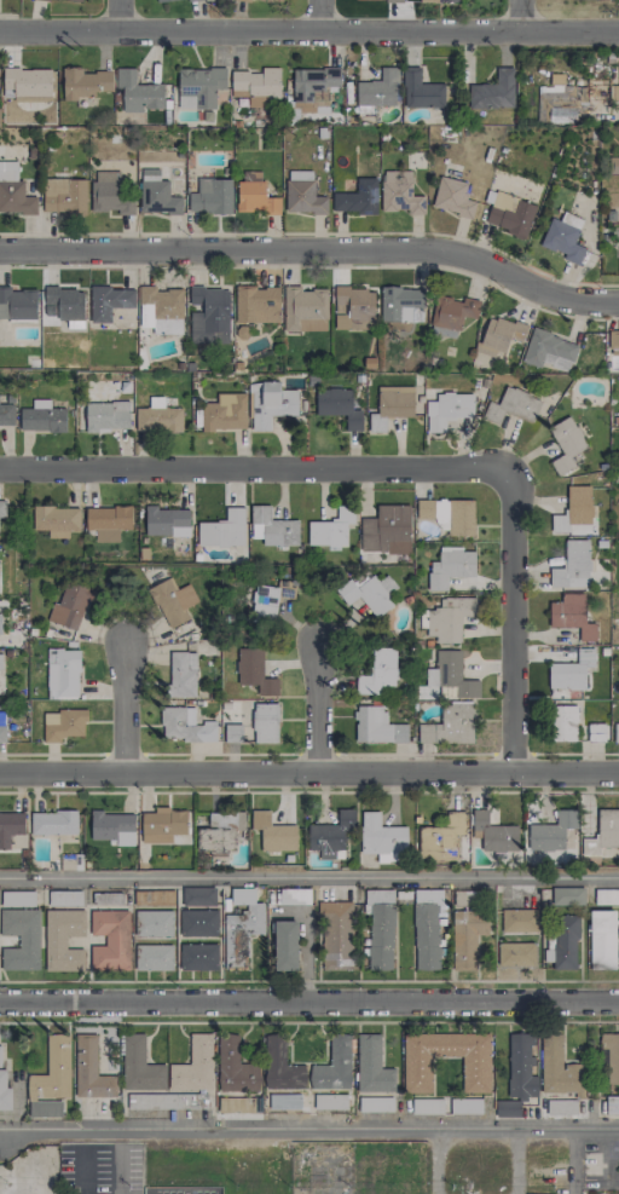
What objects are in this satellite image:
building: (74, 0)
building: (166, 0)
building: (243, 0)
building: (276, 0)
building: (383, 0)
building: (442, 0)
road: (520, 13)
road: (117, 16)
road: (318, 16)
road: (309, 31)
building: (83, 82)
building: (28, 83)
building: (255, 83)
building: (199, 87)
building: (314, 87)
building: (377, 88)
building: (421, 91)
building: (492, 91)
building: (138, 92)
building: (568, 99)
building: (13, 191)
building: (110, 192)
building: (399, 192)
building: (157, 194)
building: (254, 194)
building: (302, 194)
building: (64, 195)
building: (210, 196)
building: (358, 197)
building: (452, 197)
building: (510, 214)
road: (313, 232)
building: (563, 237)
road: (313, 248)
building: (618, 273)
building: (109, 301)
building: (400, 302)
building: (17, 304)
building: (66, 304)
building: (258, 304)
building: (162, 308)
building: (305, 308)
building: (354, 308)
building: (209, 315)
building: (499, 334)
building: (613, 342)
building: (549, 350)
building: (271, 403)
building: (392, 405)
building: (513, 405)
building: (339, 406)
building: (447, 410)
building: (225, 411)
building: (6, 415)
building: (108, 415)
building: (157, 416)
building: (42, 417)
building: (566, 444)
road: (255, 471)
building: (579, 504)
building: (424, 508)
building: (2, 509)
building: (456, 515)
building: (108, 519)
building: (57, 520)
building: (167, 521)
building: (273, 529)
building: (331, 529)
building: (224, 530)
building: (386, 530)
building: (573, 565)
building: (450, 566)
building: (369, 592)
building: (267, 600)
building: (172, 601)
building: (70, 605)
building: (572, 616)
building: (449, 617)
road: (513, 621)
building: (0, 624)
building: (254, 670)
building: (63, 673)
building: (181, 673)
building: (378, 673)
building: (569, 673)
building: (451, 675)
road: (123, 699)
road: (317, 700)
building: (265, 722)
building: (565, 722)
building: (450, 725)
building: (65, 726)
building: (185, 726)
building: (376, 726)
building: (2, 732)
building: (232, 732)
building: (596, 732)
building: (617, 732)
road: (308, 773)
building: (53, 823)
building: (162, 825)
building: (10, 826)
building: (112, 826)
building: (551, 831)
building: (220, 832)
building: (273, 832)
building: (493, 834)
building: (331, 835)
building: (604, 835)
building: (382, 838)
building: (441, 838)
road: (309, 876)
building: (294, 895)
building: (567, 895)
building: (198, 896)
building: (606, 896)
building: (17, 898)
building: (64, 898)
building: (520, 921)
building: (155, 923)
building: (198, 923)
building: (241, 928)
building: (380, 928)
building: (427, 928)
building: (336, 935)
building: (468, 935)
building: (21, 939)
building: (63, 939)
building: (602, 939)
building: (109, 940)
building: (563, 942)
building: (285, 945)
building: (516, 953)
building: (155, 957)
building: (198, 957)
road: (309, 1006)
building: (611, 1059)
building: (193, 1065)
building: (334, 1065)
building: (139, 1066)
building: (280, 1066)
building: (372, 1066)
building: (235, 1067)
building: (521, 1067)
building: (52, 1069)
building: (91, 1071)
building: (559, 1071)
building: (417, 1073)
building: (4, 1090)
building: (185, 1100)
building: (330, 1101)
building: (375, 1103)
building: (612, 1104)
building: (424, 1106)
building: (465, 1106)
building: (556, 1107)
building: (41, 1108)
building: (507, 1108)
road: (308, 1129)
road: (573, 1160)
road: (434, 1161)
road: (516, 1161)
road: (16, 1182)

